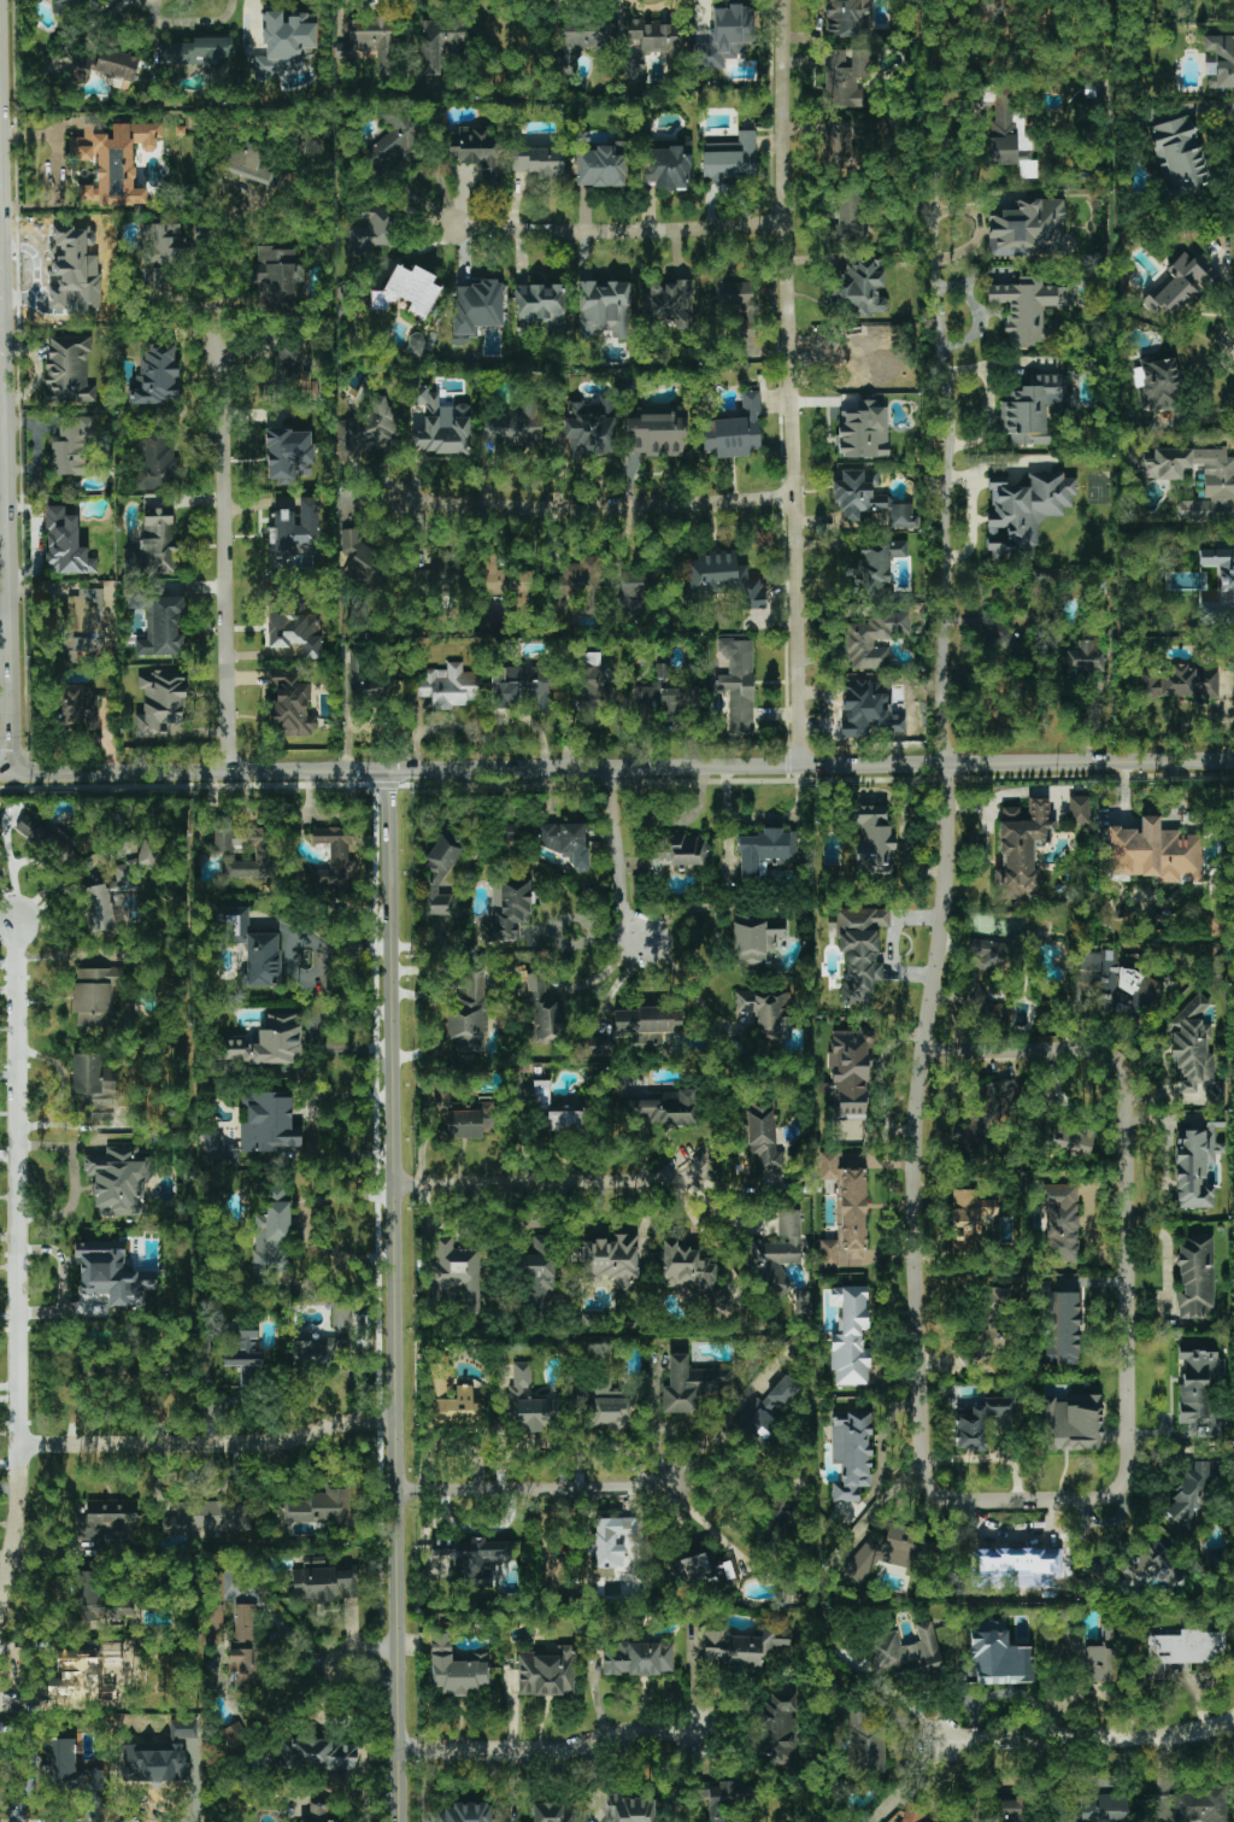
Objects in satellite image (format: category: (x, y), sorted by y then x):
building: (67, 6)
building: (845, 18)
building: (725, 36)
building: (371, 41)
building: (580, 41)
building: (439, 42)
building: (286, 43)
building: (653, 43)
building: (196, 52)
building: (1221, 60)
building: (114, 64)
building: (845, 76)
building: (394, 136)
building: (839, 146)
building: (476, 150)
building: (1179, 156)
building: (730, 158)
building: (114, 160)
building: (249, 163)
building: (539, 163)
building: (600, 166)
building: (665, 168)
road: (57, 170)
building: (848, 216)
building: (1028, 228)
road: (210, 230)
building: (371, 230)
road: (618, 232)
building: (164, 253)
road: (1, 269)
building: (76, 270)
building: (277, 274)
building: (1177, 286)
building: (860, 288)
building: (407, 289)
building: (670, 303)
building: (736, 303)
building: (541, 307)
building: (1026, 307)
building: (476, 309)
building: (603, 309)
road: (1, 335)
road: (4, 340)
building: (288, 361)
building: (852, 368)
building: (67, 370)
building: (157, 377)
road: (947, 381)
road: (791, 382)
building: (1158, 382)
building: (1032, 409)
building: (515, 423)
building: (440, 424)
building: (589, 428)
building: (368, 430)
building: (734, 430)
building: (863, 430)
building: (656, 434)
road: (2, 444)
building: (72, 445)
building: (289, 455)
building: (157, 461)
building: (1218, 490)
building: (866, 499)
road: (588, 506)
building: (1024, 512)
building: (295, 532)
building: (157, 543)
building: (65, 544)
road: (228, 556)
building: (363, 562)
building: (877, 567)
building: (446, 570)
building: (495, 576)
road: (4, 578)
building: (723, 579)
building: (599, 586)
building: (1220, 586)
building: (161, 626)
building: (83, 628)
building: (294, 629)
building: (876, 639)
building: (1085, 657)
road: (11, 676)
building: (369, 680)
building: (1181, 682)
building: (739, 684)
building: (448, 686)
building: (522, 686)
building: (590, 687)
building: (662, 701)
building: (160, 703)
building: (290, 704)
building: (80, 705)
road: (617, 768)
building: (1079, 809)
road: (762, 816)
road: (666, 820)
building: (519, 832)
building: (43, 837)
building: (872, 839)
building: (565, 842)
road: (904, 844)
building: (1021, 848)
building: (246, 850)
building: (680, 850)
road: (619, 851)
building: (765, 853)
building: (1154, 853)
building: (331, 865)
building: (442, 869)
building: (509, 907)
road: (680, 912)
building: (757, 938)
building: (251, 947)
building: (859, 951)
building: (987, 956)
road: (302, 978)
road: (689, 984)
building: (1115, 984)
building: (94, 996)
building: (542, 1010)
building: (765, 1010)
building: (468, 1015)
building: (646, 1024)
building: (264, 1043)
building: (600, 1045)
building: (1194, 1051)
building: (851, 1072)
road: (61, 1073)
building: (94, 1086)
building: (541, 1095)
building: (660, 1107)
building: (985, 1115)
building: (469, 1120)
building: (564, 1121)
road: (75, 1125)
building: (259, 1127)
building: (763, 1135)
building: (1070, 1141)
building: (827, 1165)
building: (1195, 1167)
road: (540, 1179)
road: (74, 1181)
building: (118, 1182)
building: (969, 1217)
building: (1060, 1220)
road: (699, 1228)
building: (272, 1234)
road: (8, 1236)
building: (827, 1253)
building: (778, 1255)
building: (610, 1260)
road: (18, 1271)
building: (454, 1273)
building: (692, 1273)
road: (1168, 1273)
building: (111, 1275)
building: (537, 1275)
building: (1195, 1277)
road: (395, 1296)
building: (998, 1300)
building: (803, 1302)
building: (1060, 1328)
building: (850, 1336)
building: (324, 1340)
building: (987, 1344)
building: (692, 1384)
building: (1198, 1389)
building: (525, 1402)
building: (458, 1406)
building: (606, 1408)
building: (766, 1410)
building: (981, 1422)
building: (1070, 1422)
road: (656, 1430)
road: (716, 1430)
road: (210, 1443)
building: (851, 1454)
road: (533, 1487)
building: (1193, 1489)
road: (975, 1498)
building: (322, 1507)
building: (210, 1516)
building: (108, 1518)
building: (775, 1519)
road: (707, 1525)
building: (611, 1539)
building: (882, 1552)
building: (1011, 1560)
building: (1150, 1569)
building: (701, 1571)
building: (325, 1583)
building: (96, 1599)
building: (215, 1621)
building: (245, 1623)
building: (745, 1646)
building: (1183, 1650)
building: (907, 1652)
building: (1091, 1657)
building: (637, 1658)
building: (1000, 1659)
building: (243, 1664)
road: (371, 1664)
building: (457, 1669)
building: (546, 1671)
building: (777, 1729)
building: (235, 1736)
road: (1087, 1740)
building: (865, 1744)
road: (557, 1752)
building: (317, 1754)
building: (59, 1762)
road: (911, 1781)
building: (717, 1798)
building: (1199, 1805)
building: (1103, 1808)
building: (629, 1809)
building: (1007, 1810)
building: (465, 1812)
building: (552, 1812)
building: (318, 1814)
building: (915, 1814)

